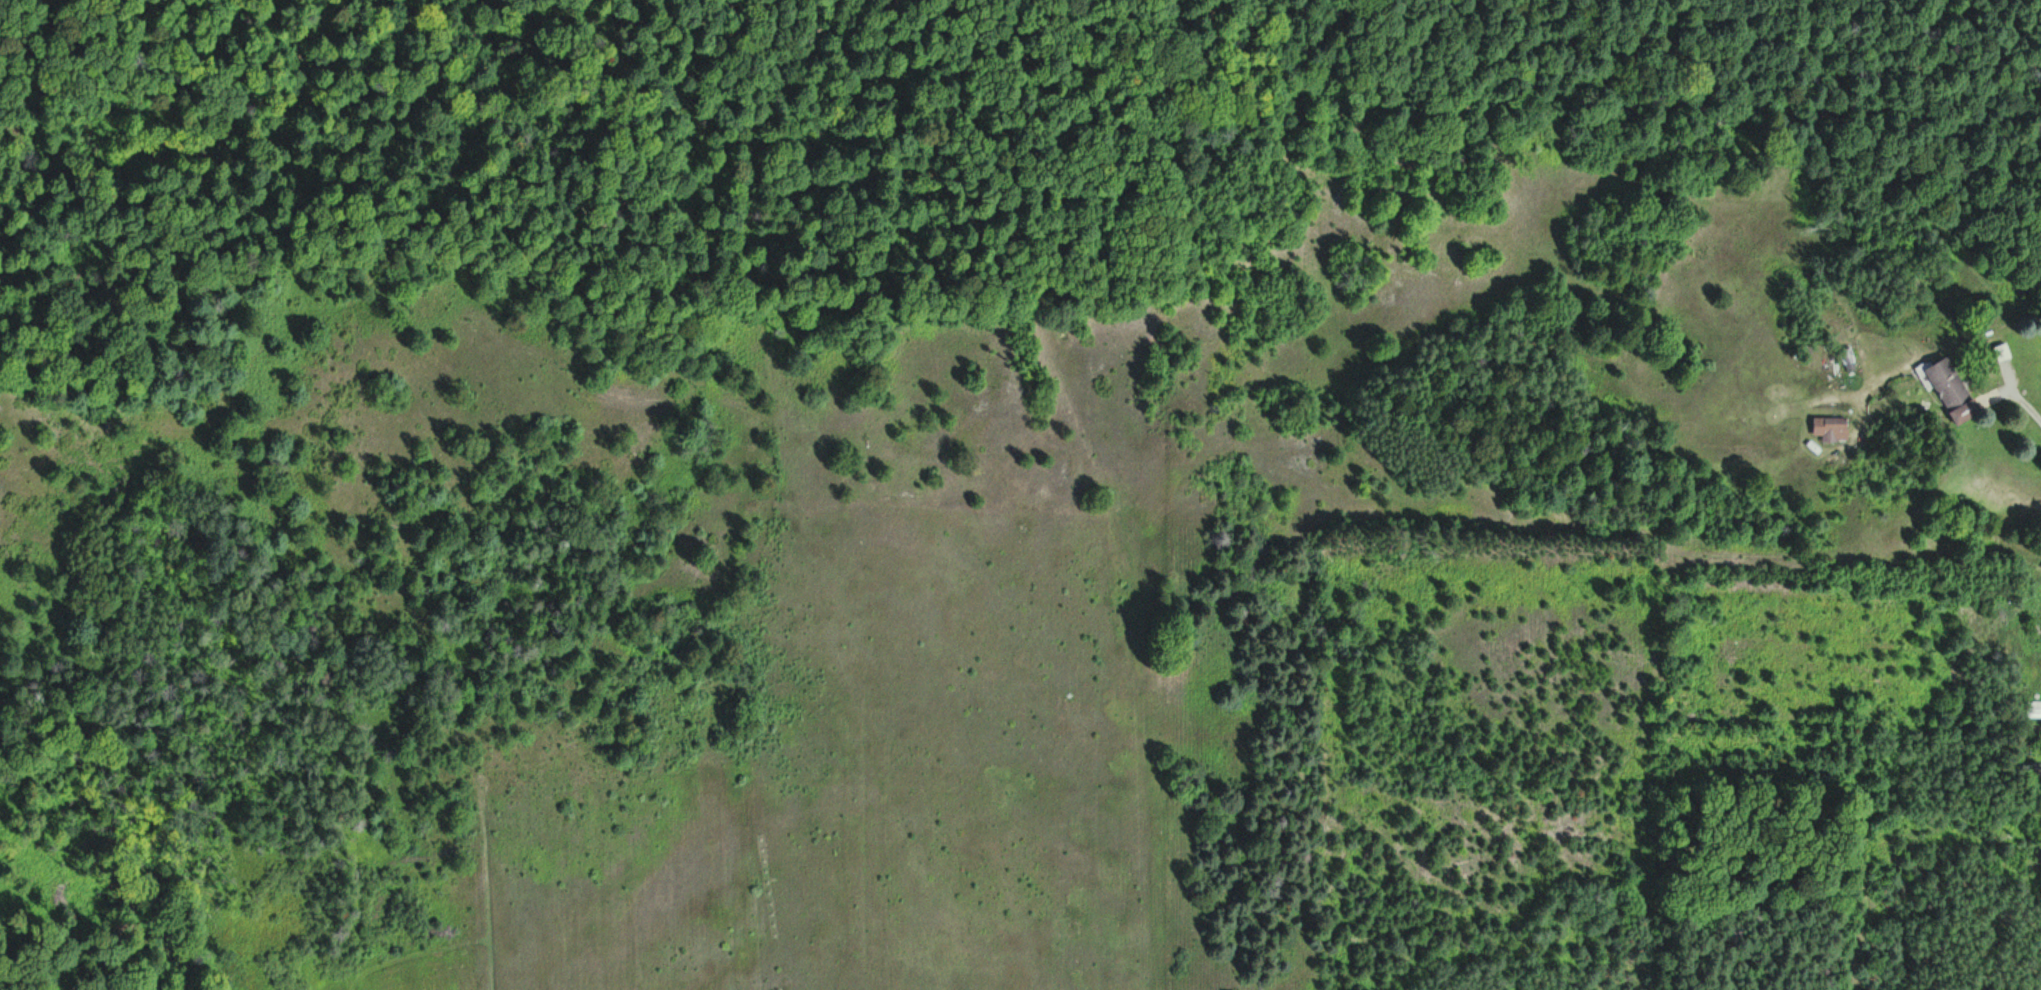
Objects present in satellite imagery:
building: (2004, 352)
building: (1954, 390)
building: (1831, 428)
building: (2034, 708)
building: (2032, 771)

